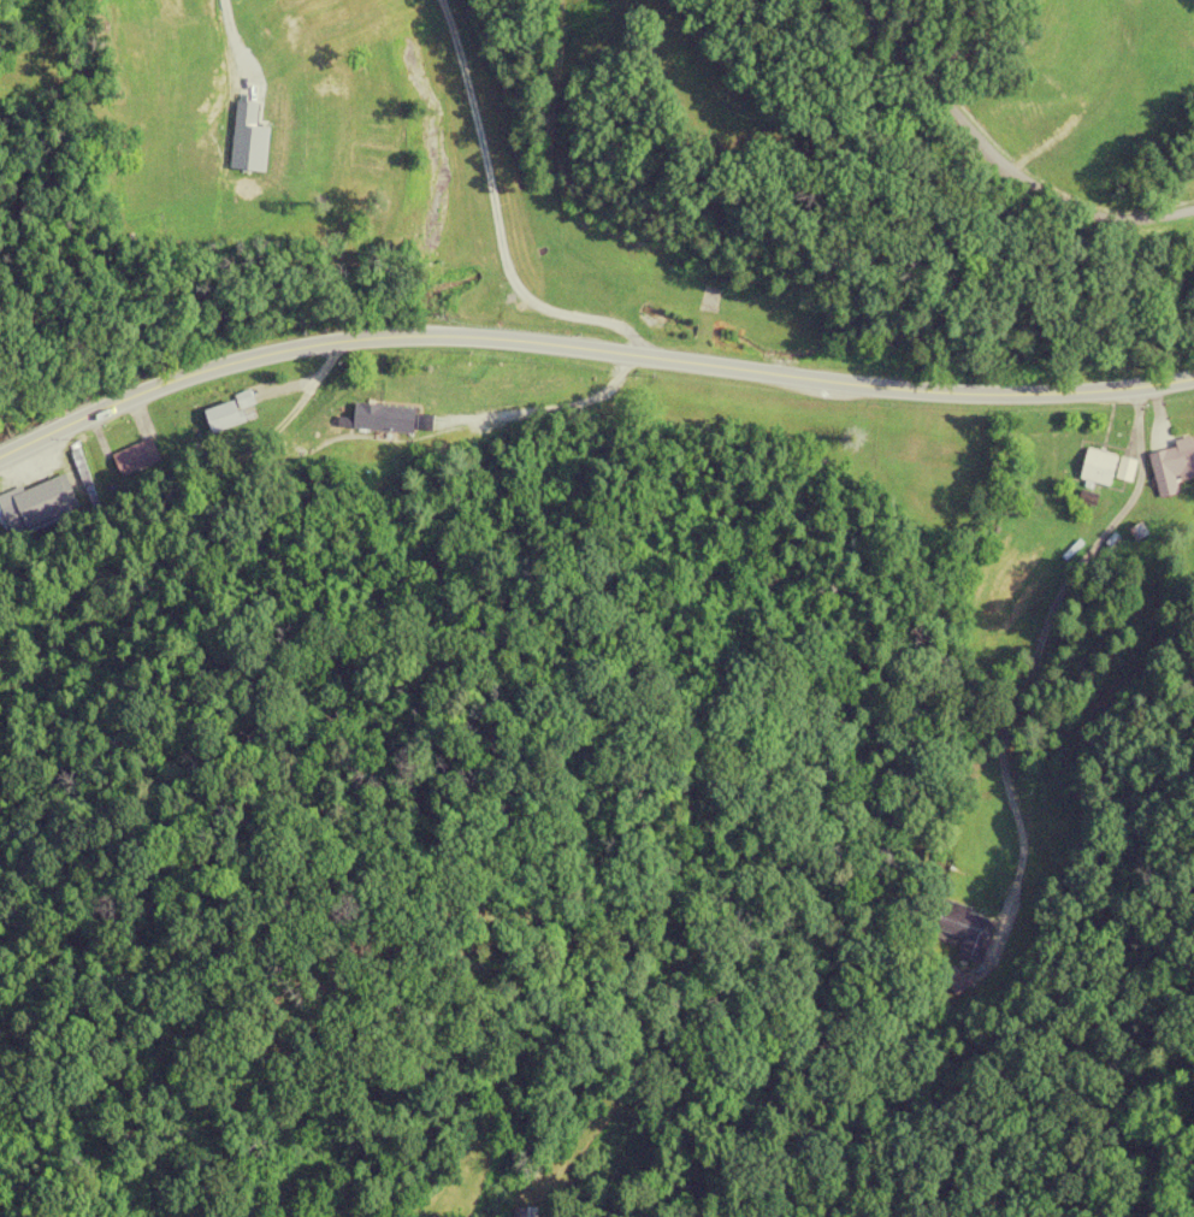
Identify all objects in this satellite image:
road: (589, 342)
building: (221, 415)
building: (136, 457)
building: (1171, 466)
building: (1097, 467)
building: (1124, 469)
building: (83, 475)
building: (31, 506)
road: (1028, 658)
building: (962, 937)
building: (524, 1212)

